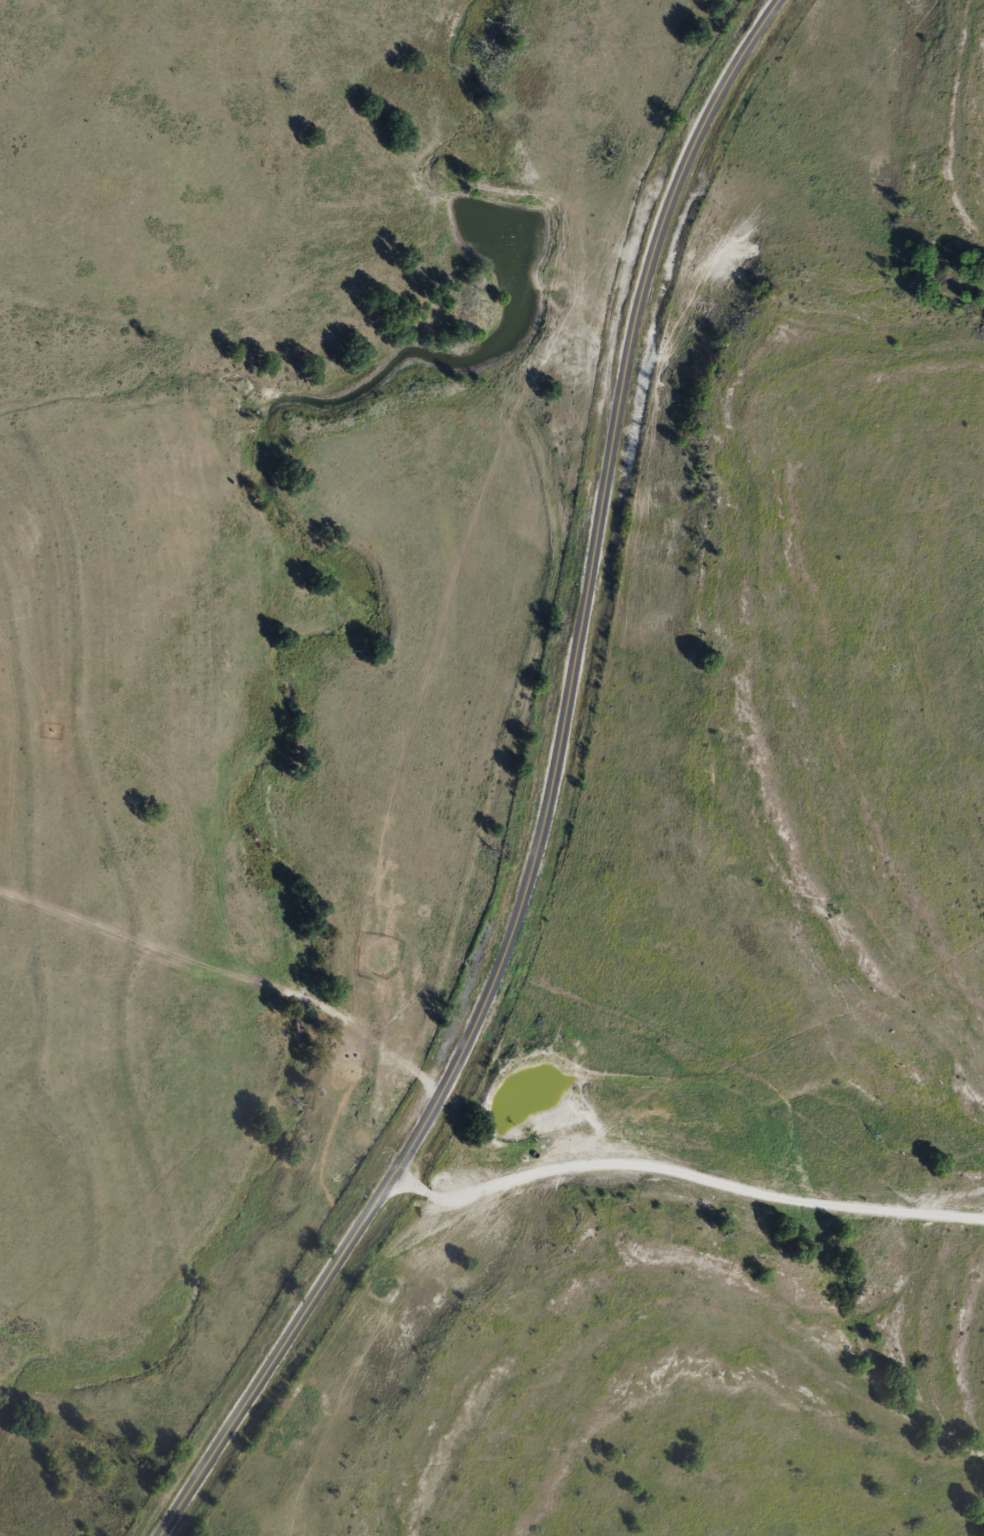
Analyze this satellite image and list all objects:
road: (549, 797)
road: (685, 1171)

